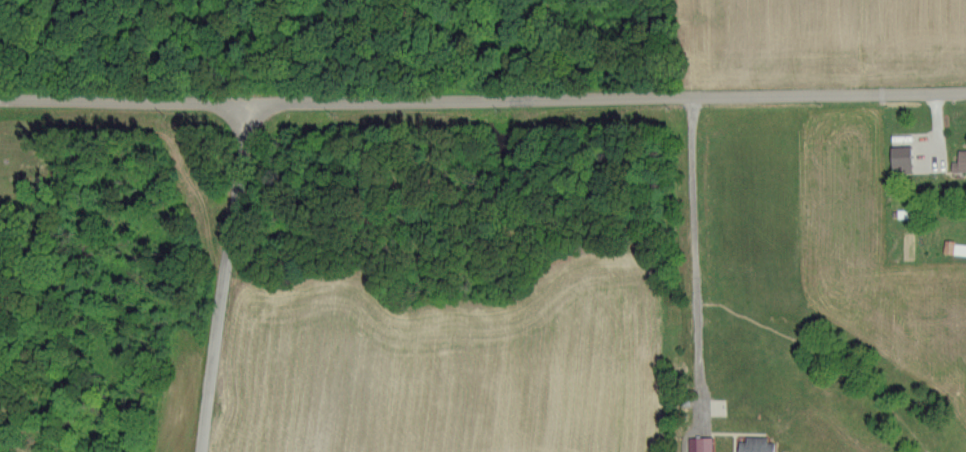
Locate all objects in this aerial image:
road: (483, 101)
building: (901, 158)
building: (960, 160)
road: (223, 278)
building: (700, 444)
building: (757, 444)

